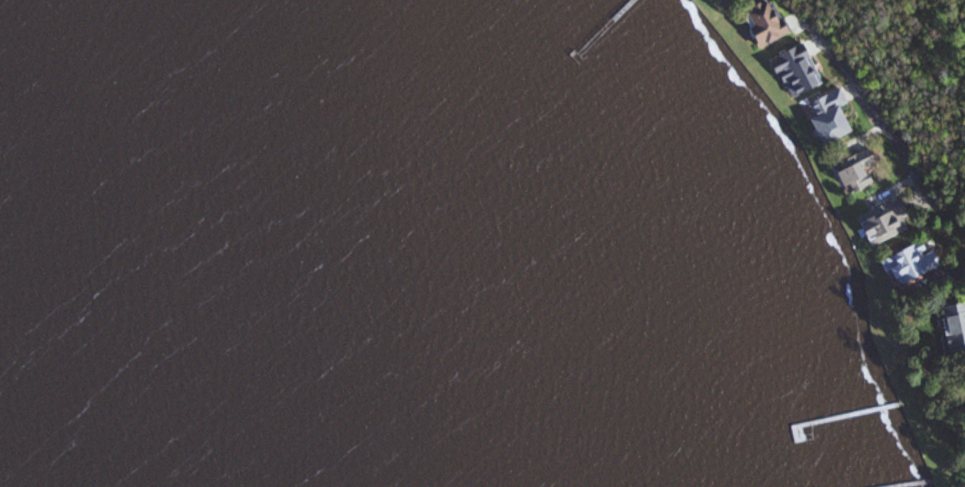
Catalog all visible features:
building: (770, 22)
building: (801, 70)
road: (878, 112)
building: (834, 115)
building: (860, 171)
building: (889, 222)
building: (916, 262)
building: (956, 329)

